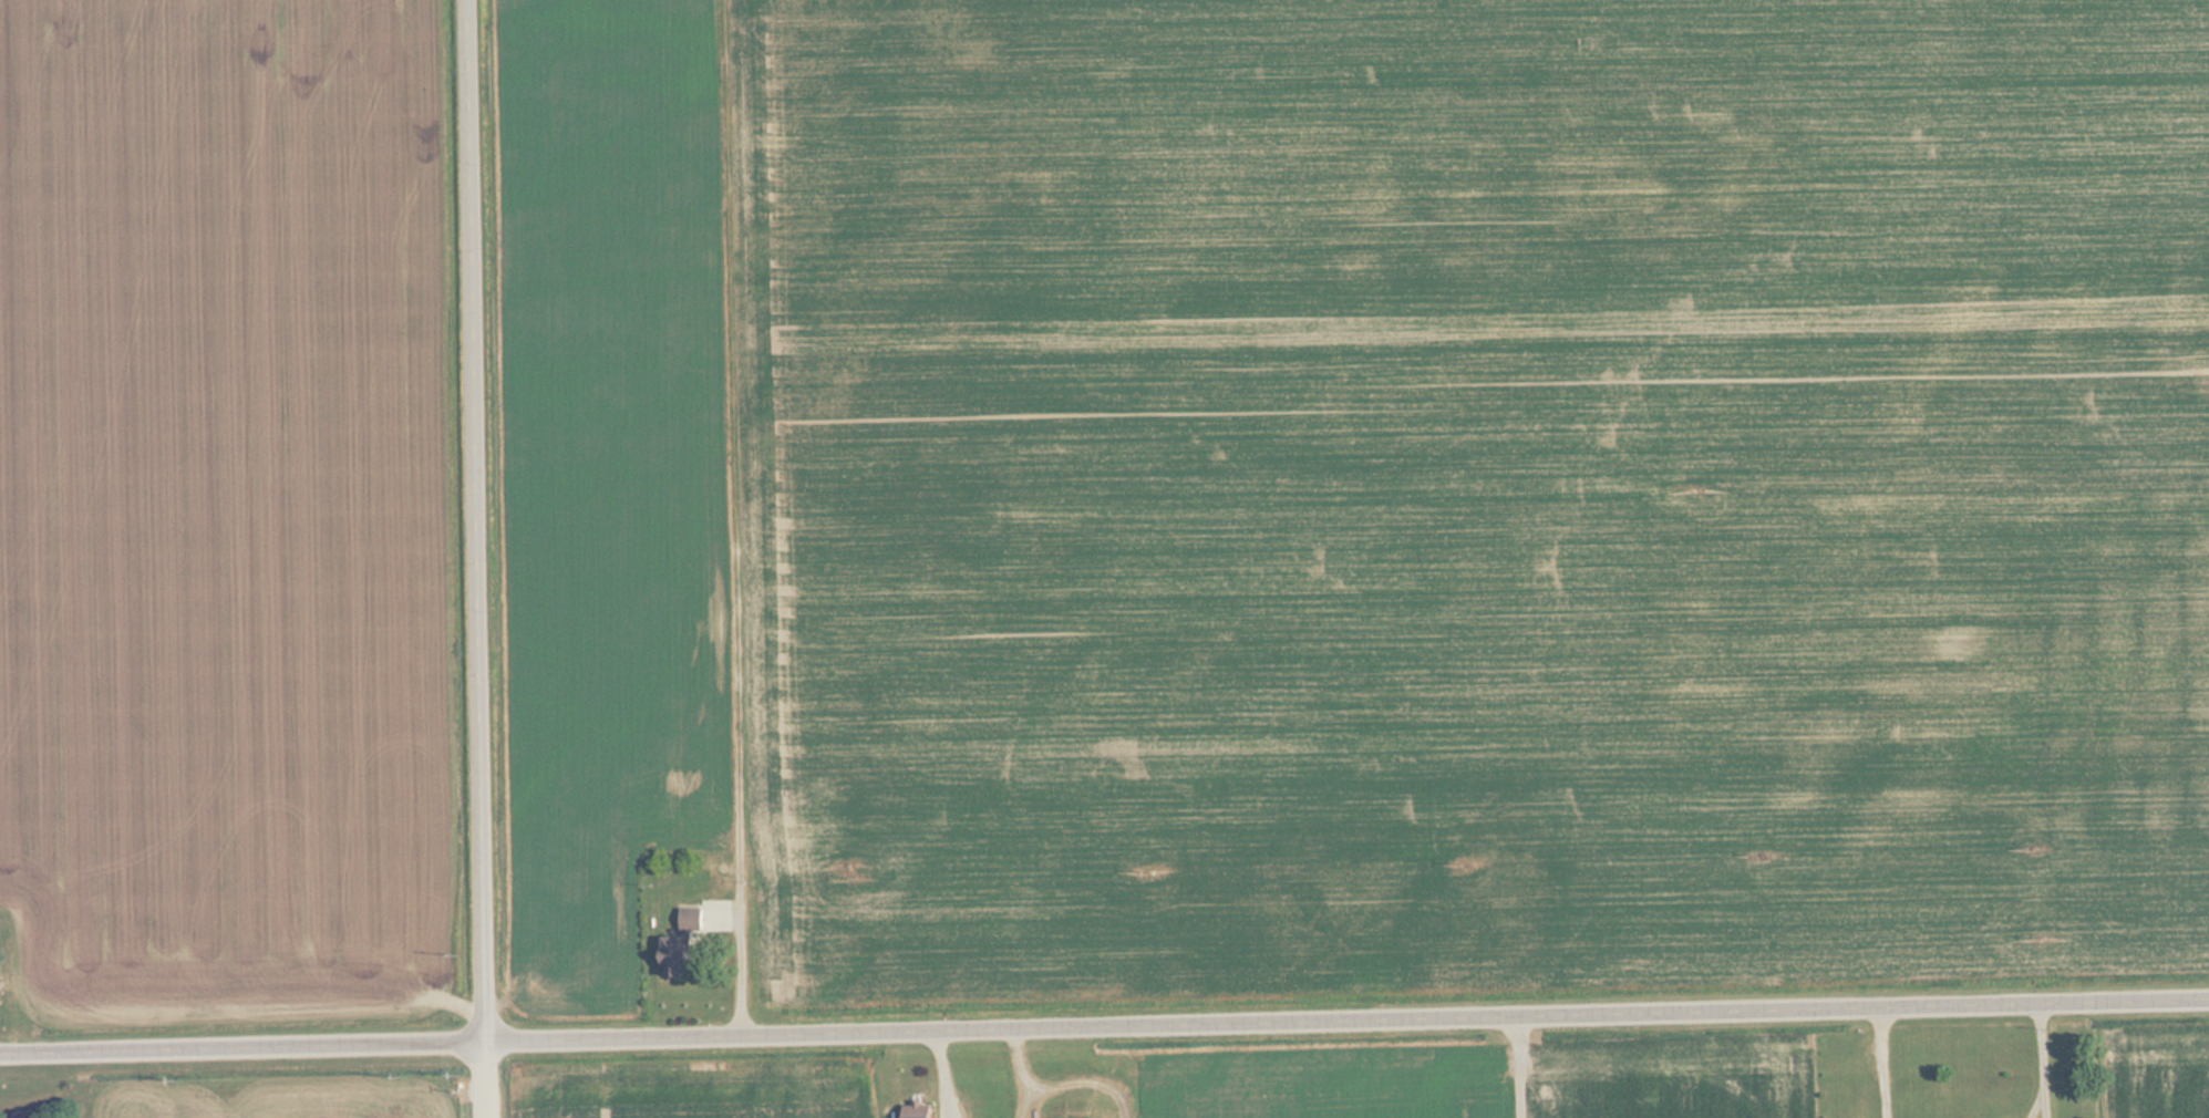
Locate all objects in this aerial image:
road: (485, 559)
building: (783, 828)
building: (678, 838)
building: (681, 955)
road: (1104, 1033)
road: (1515, 1069)
building: (920, 1109)
building: (24, 1117)

